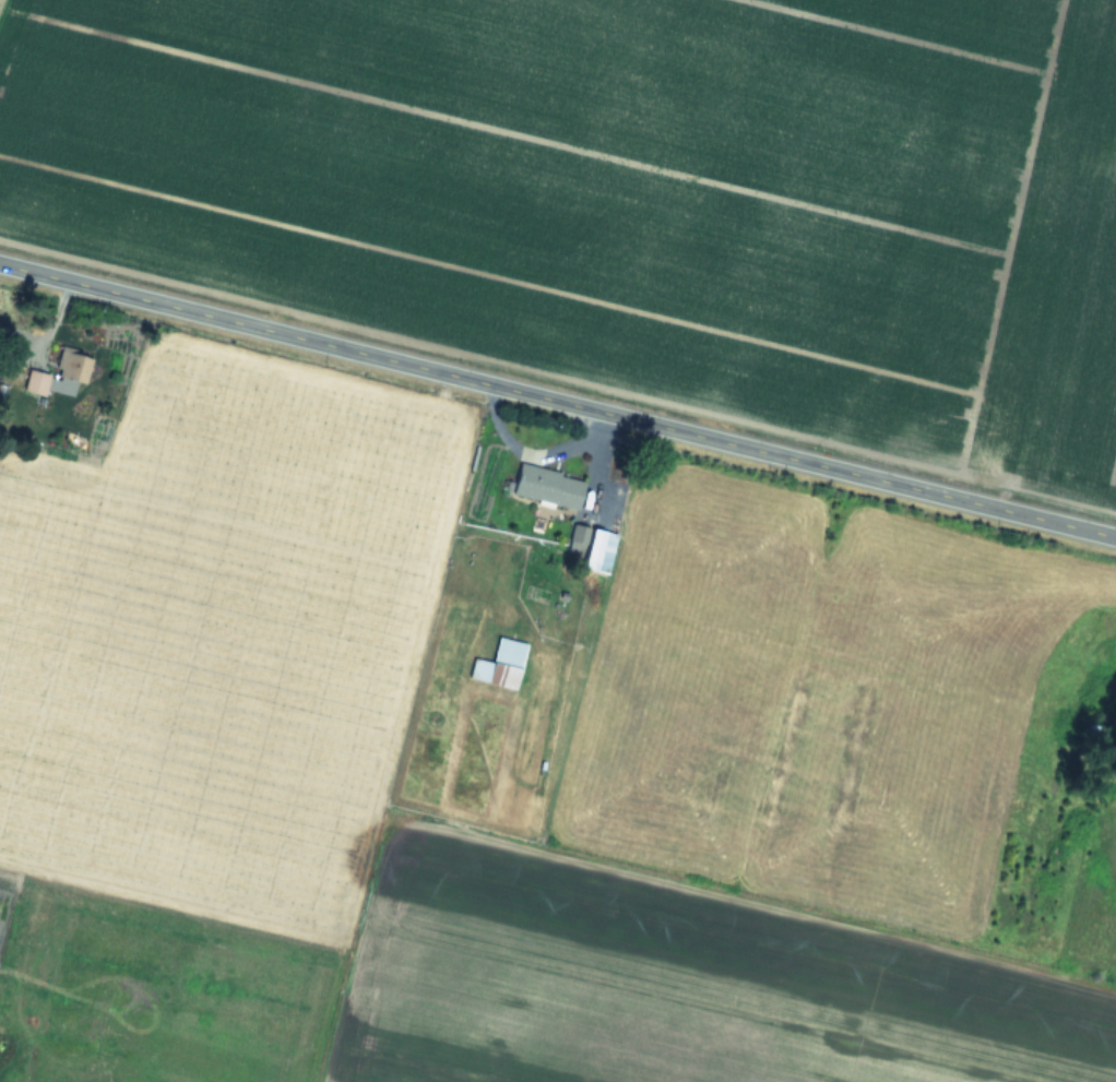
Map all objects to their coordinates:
building: (71, 369)
building: (36, 381)
road: (557, 400)
building: (548, 486)
crop: (558, 540)
building: (593, 546)
building: (501, 664)
building: (1096, 733)

